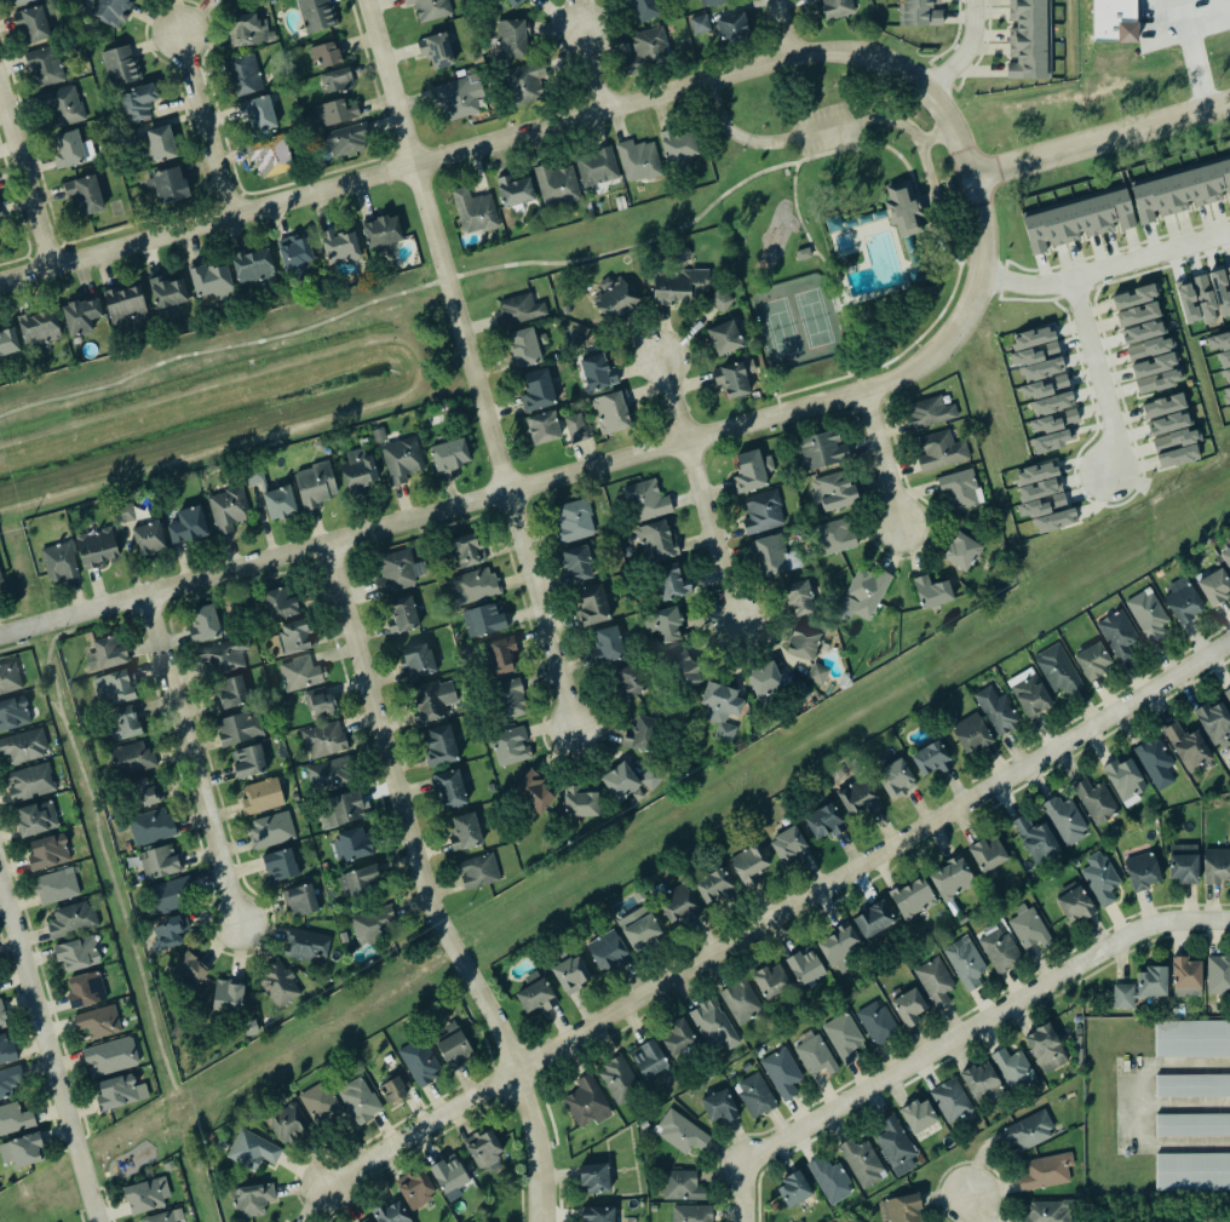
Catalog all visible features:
building: (528, 0)
building: (17, 1)
building: (512, 2)
building: (713, 2)
building: (832, 6)
building: (430, 8)
building: (643, 8)
building: (110, 10)
building: (315, 13)
building: (916, 13)
building: (1114, 21)
building: (31, 24)
building: (700, 24)
building: (732, 28)
road: (782, 28)
building: (248, 29)
building: (511, 38)
building: (1028, 39)
building: (438, 50)
building: (645, 51)
road: (964, 52)
building: (324, 53)
road: (1185, 56)
building: (42, 65)
building: (120, 65)
road: (594, 68)
building: (243, 74)
building: (337, 79)
building: (525, 82)
park: (811, 96)
building: (459, 97)
building: (138, 99)
building: (63, 105)
building: (338, 110)
building: (261, 111)
road: (868, 117)
road: (203, 127)
parking lot: (826, 127)
road: (936, 133)
road: (513, 136)
road: (1100, 137)
building: (343, 138)
building: (157, 144)
building: (678, 145)
building: (70, 149)
building: (269, 156)
building: (638, 160)
building: (594, 165)
road: (25, 183)
building: (557, 184)
road: (736, 184)
building: (167, 185)
park: (947, 189)
building: (515, 190)
building: (1180, 190)
building: (85, 194)
building: (902, 207)
building: (475, 211)
building: (1074, 219)
building: (383, 233)
building: (340, 246)
park: (786, 251)
building: (294, 254)
road: (824, 265)
road: (1105, 268)
building: (1229, 270)
building: (207, 277)
building: (677, 283)
building: (166, 291)
building: (1219, 292)
building: (1134, 296)
building: (615, 298)
building: (718, 299)
building: (1185, 300)
building: (125, 303)
building: (518, 310)
building: (79, 315)
building: (1136, 315)
park: (795, 322)
building: (36, 327)
building: (1144, 332)
building: (723, 337)
building: (7, 340)
road: (228, 345)
building: (522, 346)
building: (1149, 348)
building: (1036, 354)
park: (220, 355)
building: (1223, 357)
road: (889, 360)
road: (466, 363)
building: (598, 372)
building: (1156, 373)
road: (1098, 374)
building: (1226, 375)
building: (735, 377)
building: (1044, 386)
building: (535, 389)
building: (1225, 396)
road: (669, 398)
building: (1052, 403)
building: (1162, 406)
building: (927, 412)
building: (614, 414)
building: (1168, 423)
building: (541, 426)
building: (574, 426)
building: (1052, 430)
building: (1176, 448)
building: (822, 449)
building: (938, 449)
building: (447, 453)
building: (401, 459)
road: (883, 460)
building: (357, 471)
building: (752, 471)
road: (563, 475)
building: (314, 483)
building: (833, 489)
building: (960, 489)
building: (1041, 489)
building: (649, 499)
building: (280, 503)
building: (228, 509)
building: (763, 512)
building: (125, 514)
building: (574, 521)
building: (188, 524)
road: (707, 535)
building: (833, 535)
building: (148, 538)
building: (656, 541)
building: (97, 547)
building: (466, 550)
building: (961, 551)
building: (775, 555)
building: (1225, 557)
building: (57, 561)
building: (575, 562)
building: (397, 569)
building: (0, 579)
building: (672, 583)
building: (475, 585)
building: (1213, 586)
building: (932, 591)
building: (864, 593)
building: (799, 598)
building: (1180, 599)
building: (281, 601)
building: (591, 606)
building: (402, 614)
building: (1148, 615)
building: (483, 619)
building: (662, 623)
building: (205, 624)
building: (1117, 635)
building: (297, 636)
building: (804, 642)
building: (607, 644)
building: (499, 654)
building: (105, 655)
building: (220, 655)
building: (416, 660)
building: (1091, 660)
building: (682, 669)
building: (1056, 669)
building: (300, 672)
building: (817, 673)
building: (8, 677)
building: (764, 678)
building: (628, 683)
building: (114, 684)
building: (230, 692)
building: (1029, 693)
building: (1228, 693)
building: (510, 698)
building: (432, 699)
building: (320, 704)
building: (719, 707)
building: (995, 708)
building: (12, 712)
building: (123, 722)
building: (1213, 722)
building: (238, 728)
building: (640, 733)
building: (970, 733)
building: (324, 739)
building: (439, 745)
building: (22, 746)
building: (510, 746)
building: (1185, 746)
building: (130, 758)
road: (190, 758)
building: (930, 758)
building: (248, 761)
building: (1153, 762)
building: (331, 774)
building: (650, 778)
building: (895, 778)
building: (1125, 779)
building: (28, 781)
building: (620, 781)
building: (449, 788)
building: (534, 791)
building: (144, 792)
building: (261, 796)
building: (858, 796)
building: (1096, 801)
building: (580, 803)
building: (340, 808)
building: (35, 819)
building: (1063, 819)
building: (824, 821)
building: (150, 825)
building: (270, 830)
building: (464, 832)
building: (1034, 839)
building: (354, 844)
building: (788, 844)
building: (48, 851)
building: (985, 854)
building: (159, 861)
building: (746, 864)
building: (278, 865)
building: (1214, 865)
building: (1182, 868)
building: (476, 870)
building: (1143, 871)
building: (1100, 877)
building: (950, 879)
building: (360, 882)
building: (57, 885)
building: (713, 885)
road: (421, 888)
building: (165, 895)
building: (910, 896)
building: (300, 900)
building: (677, 902)
building: (1074, 902)
road: (776, 914)
building: (71, 919)
building: (873, 919)
building: (637, 922)
building: (372, 923)
building: (1028, 926)
building: (169, 931)
building: (306, 946)
building: (839, 946)
building: (999, 950)
building: (608, 952)
building: (77, 953)
building: (964, 962)
building: (805, 968)
building: (189, 970)
building: (570, 973)
building: (1218, 974)
building: (1186, 977)
building: (770, 980)
building: (935, 981)
building: (278, 983)
building: (1140, 987)
building: (84, 989)
building: (228, 996)
building: (536, 997)
building: (741, 999)
building: (909, 1006)
building: (1, 1016)
building: (99, 1021)
building: (713, 1021)
building: (875, 1022)
building: (679, 1035)
building: (845, 1037)
building: (1190, 1038)
road: (956, 1039)
building: (453, 1046)
building: (1044, 1048)
building: (6, 1049)
building: (814, 1051)
building: (109, 1055)
road: (47, 1056)
building: (418, 1061)
building: (649, 1061)
building: (1013, 1068)
building: (781, 1069)
building: (10, 1078)
building: (619, 1080)
building: (981, 1083)
building: (1190, 1085)
building: (391, 1089)
building: (120, 1091)
building: (753, 1094)
building: (357, 1098)
building: (950, 1098)
building: (318, 1101)
building: (587, 1102)
road: (1136, 1103)
building: (719, 1106)
building: (916, 1115)
building: (13, 1118)
building: (288, 1123)
building: (1191, 1124)
building: (1024, 1129)
building: (679, 1132)
building: (893, 1146)
building: (481, 1147)
building: (251, 1149)
building: (21, 1151)
building: (862, 1163)
building: (1045, 1171)
building: (1191, 1172)
building: (447, 1175)
building: (594, 1177)
building: (830, 1177)
building: (682, 1186)
building: (415, 1188)
building: (793, 1188)
building: (144, 1194)
building: (252, 1199)
road: (975, 1205)
building: (899, 1209)
building: (1051, 1211)
building: (690, 1212)
building: (389, 1214)
building: (598, 1214)
building: (163, 1216)

